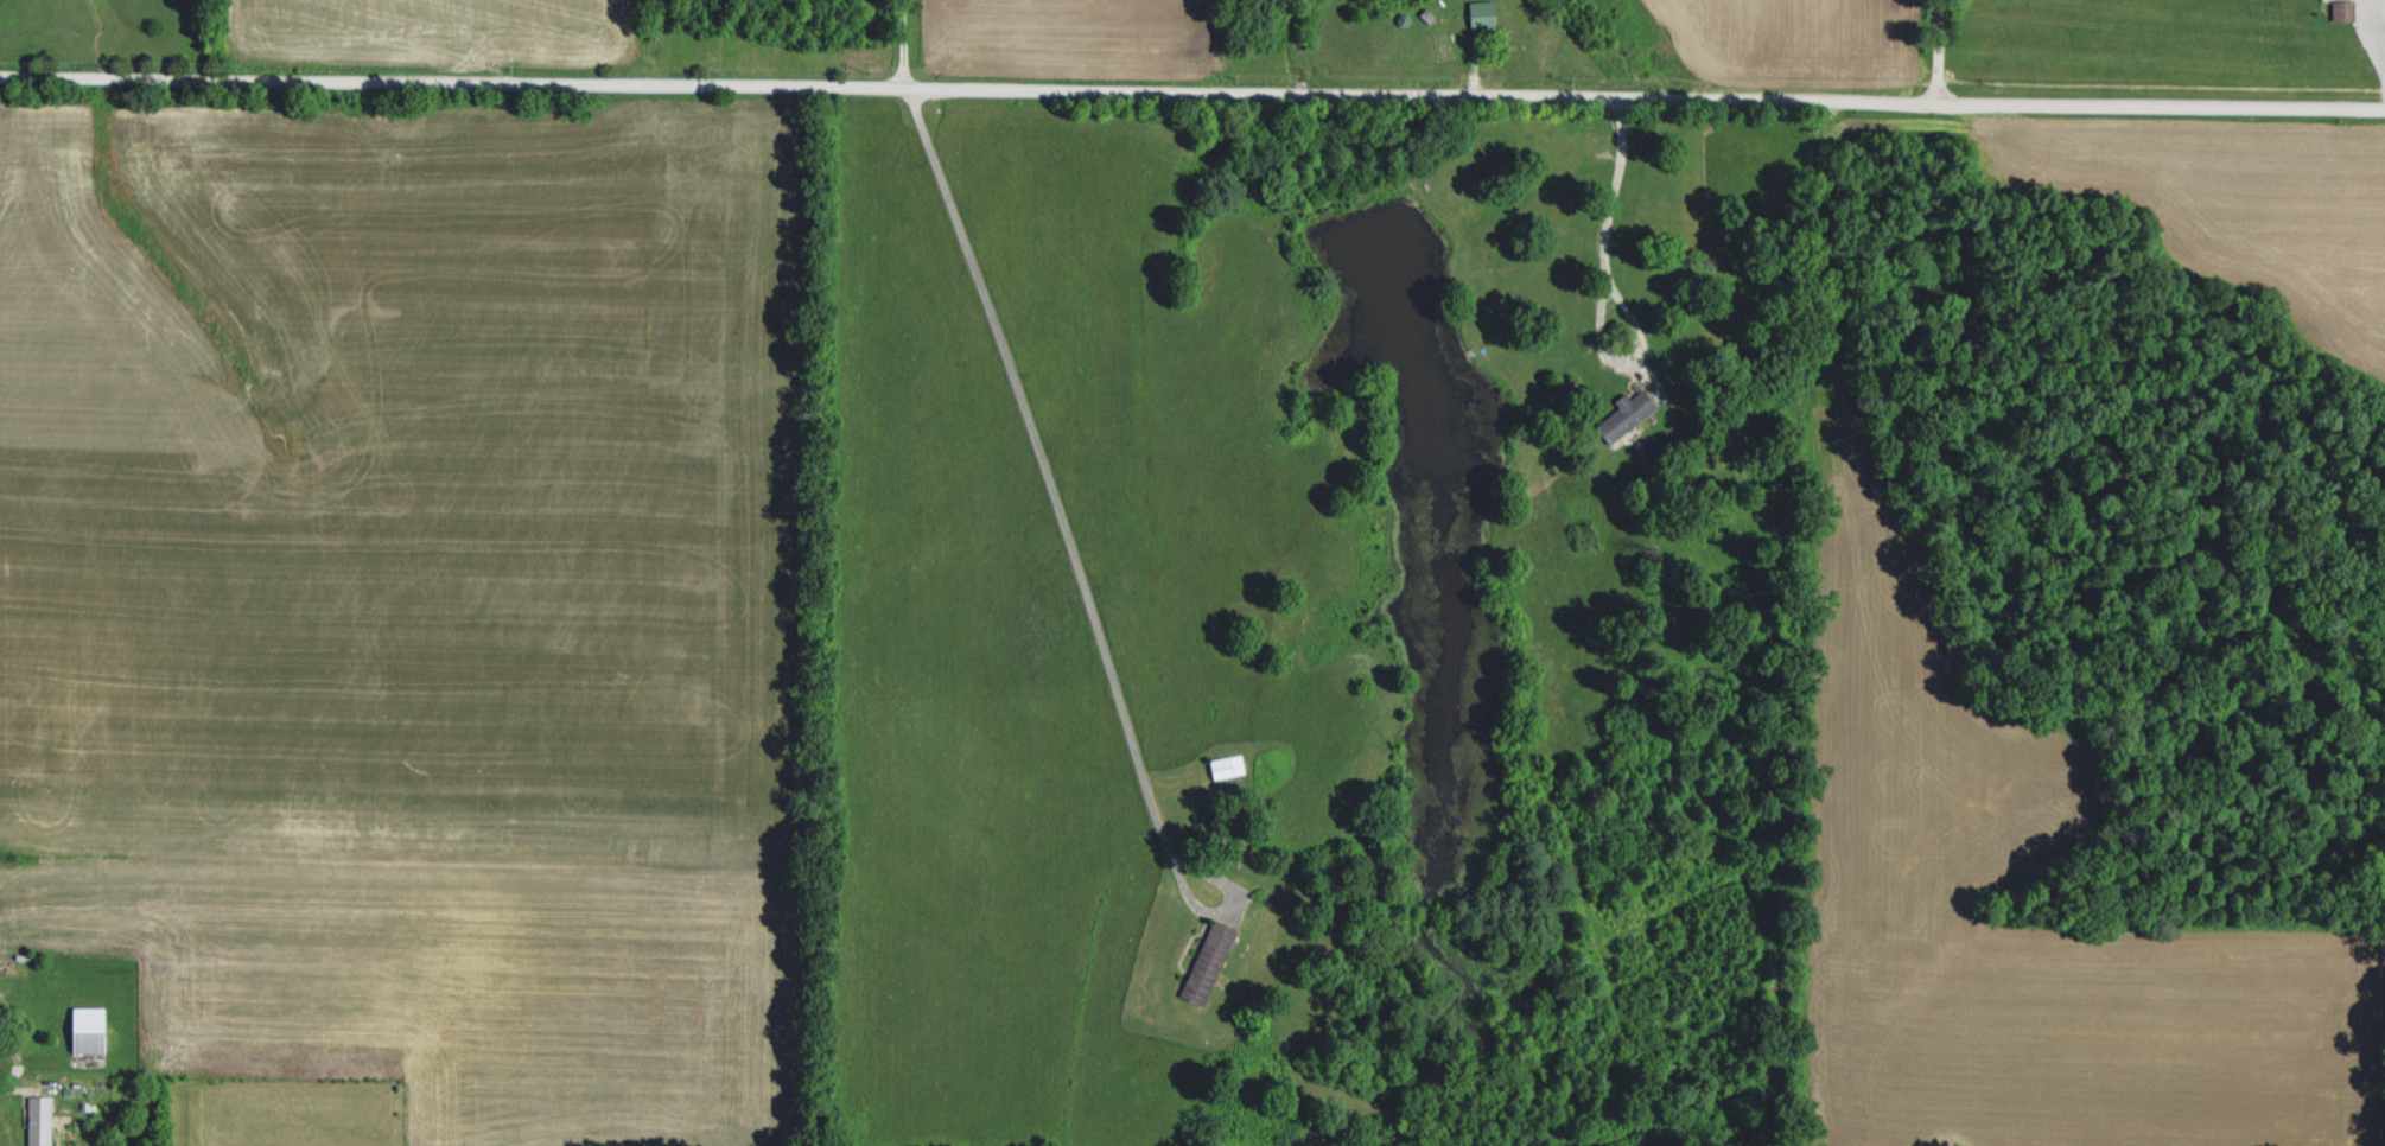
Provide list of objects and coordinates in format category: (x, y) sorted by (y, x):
building: (2346, 9)
building: (1486, 13)
road: (904, 45)
road: (1939, 50)
road: (419, 85)
road: (1611, 95)
road: (1603, 289)
building: (1629, 414)
road: (1076, 555)
building: (1211, 961)
building: (93, 1029)
road: (23, 1081)
building: (43, 1120)

